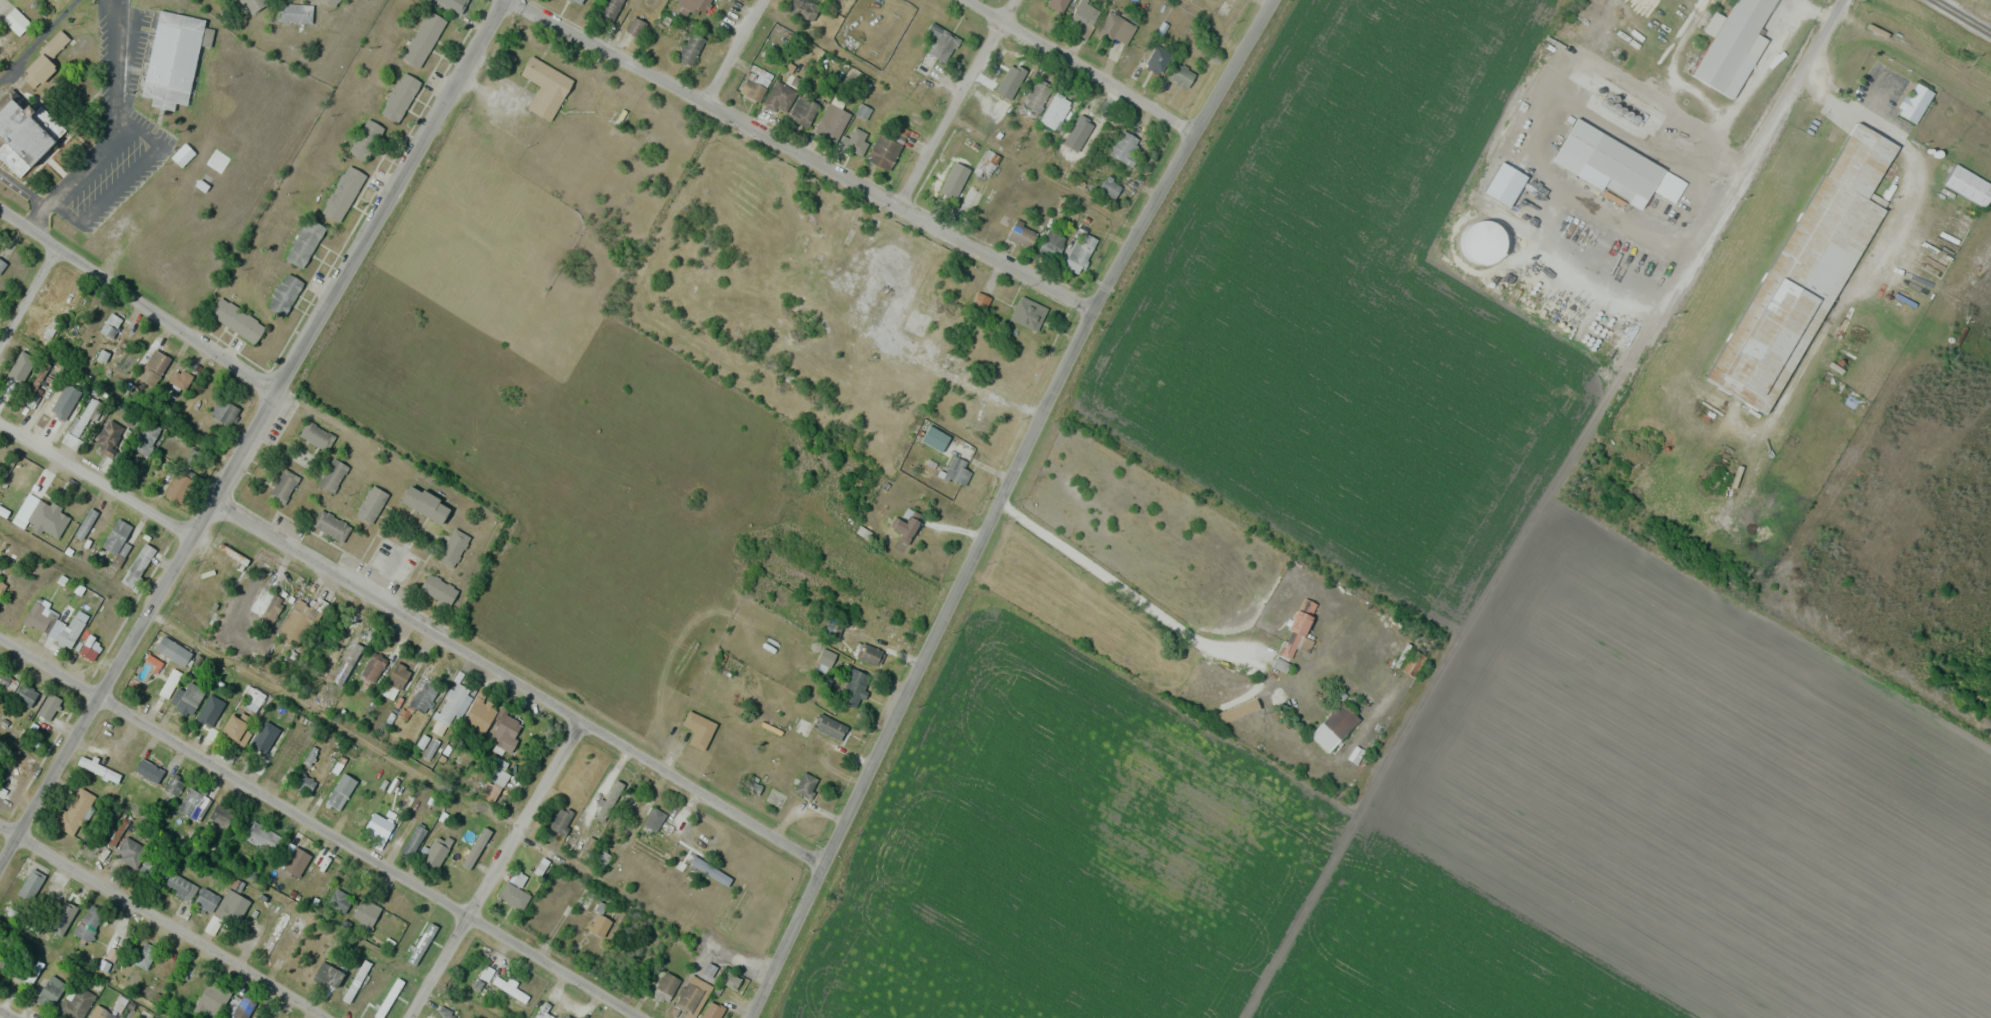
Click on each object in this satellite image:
building: (578, 1)
building: (332, 2)
building: (466, 2)
building: (253, 4)
building: (1058, 4)
building: (697, 6)
building: (804, 9)
building: (609, 10)
building: (294, 12)
building: (1084, 15)
railway: (1964, 15)
building: (16, 21)
building: (635, 26)
building: (1117, 27)
building: (423, 38)
building: (938, 45)
building: (1731, 45)
building: (690, 48)
road: (739, 52)
building: (174, 58)
building: (1158, 59)
building: (44, 60)
road: (1088, 67)
building: (1010, 74)
building: (1180, 75)
building: (758, 83)
building: (545, 87)
building: (1037, 95)
building: (400, 96)
building: (780, 96)
building: (1915, 102)
road: (960, 103)
building: (803, 111)
building: (1056, 111)
building: (832, 123)
building: (1077, 128)
building: (23, 138)
building: (365, 139)
building: (856, 141)
building: (1125, 146)
building: (883, 151)
building: (180, 156)
road: (807, 156)
building: (1617, 164)
building: (1969, 184)
building: (1110, 186)
building: (954, 188)
building: (343, 193)
building: (1021, 234)
building: (1949, 241)
building: (304, 242)
building: (1050, 245)
building: (1482, 248)
building: (1080, 254)
building: (2, 265)
building: (1806, 270)
building: (968, 279)
building: (285, 294)
road: (139, 296)
road: (28, 298)
building: (1028, 313)
building: (55, 320)
building: (237, 320)
building: (917, 321)
building: (110, 325)
building: (952, 362)
building: (20, 364)
building: (154, 369)
building: (180, 378)
building: (224, 411)
building: (82, 421)
building: (981, 421)
road: (254, 432)
building: (108, 435)
building: (316, 435)
building: (146, 438)
building: (935, 438)
building: (957, 471)
building: (332, 475)
road: (98, 478)
building: (180, 485)
building: (283, 486)
road: (1001, 502)
building: (371, 504)
building: (425, 504)
road: (1536, 507)
building: (43, 515)
building: (85, 524)
building: (331, 525)
building: (907, 525)
building: (116, 536)
building: (453, 547)
building: (138, 565)
road: (1102, 572)
building: (1, 587)
building: (438, 589)
building: (266, 604)
road: (965, 612)
building: (40, 617)
building: (831, 627)
building: (1297, 628)
building: (66, 635)
building: (354, 647)
building: (170, 649)
building: (87, 652)
building: (866, 652)
building: (826, 657)
building: (373, 666)
building: (397, 675)
building: (7, 681)
road: (518, 686)
building: (854, 687)
building: (25, 695)
building: (186, 698)
building: (451, 704)
building: (49, 707)
building: (211, 712)
building: (478, 716)
building: (829, 727)
building: (1334, 727)
building: (234, 728)
building: (698, 729)
building: (505, 732)
building: (259, 743)
building: (301, 746)
building: (98, 769)
building: (148, 770)
building: (494, 780)
building: (174, 783)
building: (305, 783)
building: (806, 785)
building: (334, 797)
building: (630, 803)
building: (193, 804)
building: (75, 810)
building: (221, 816)
building: (654, 819)
building: (560, 820)
building: (380, 826)
road: (321, 827)
building: (261, 837)
building: (413, 839)
building: (476, 848)
building: (129, 851)
building: (436, 852)
building: (600, 858)
building: (295, 861)
building: (711, 870)
building: (152, 871)
road: (498, 873)
building: (32, 882)
building: (180, 887)
building: (51, 890)
building: (513, 895)
building: (205, 900)
building: (339, 900)
building: (67, 902)
building: (231, 907)
building: (365, 912)
road: (162, 921)
building: (599, 924)
building: (87, 925)
building: (275, 933)
building: (421, 942)
building: (145, 955)
building: (0, 959)
building: (29, 972)
building: (486, 973)
building: (329, 974)
building: (356, 981)
building: (733, 981)
building: (666, 986)
building: (51, 990)
building: (692, 993)
building: (388, 998)
building: (211, 1000)
building: (76, 1002)
building: (712, 1011)
building: (98, 1012)
road: (7, 1013)
building: (567, 1016)
building: (253, 1017)

